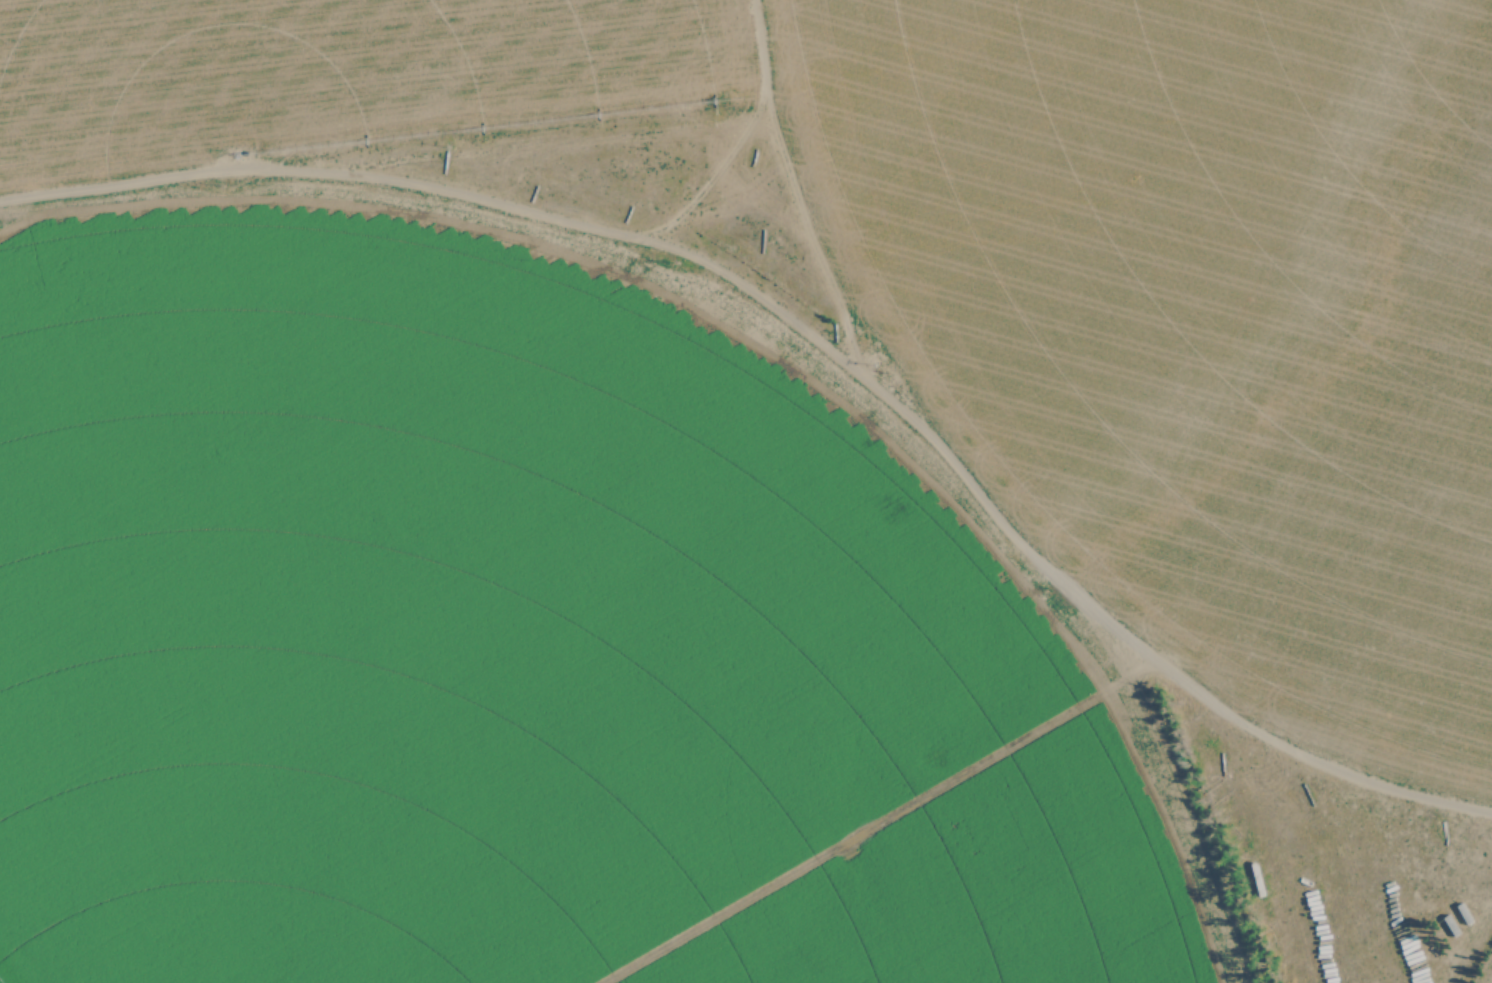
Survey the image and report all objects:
crop: (334, 64)
crop: (1206, 311)
crop: (526, 633)

